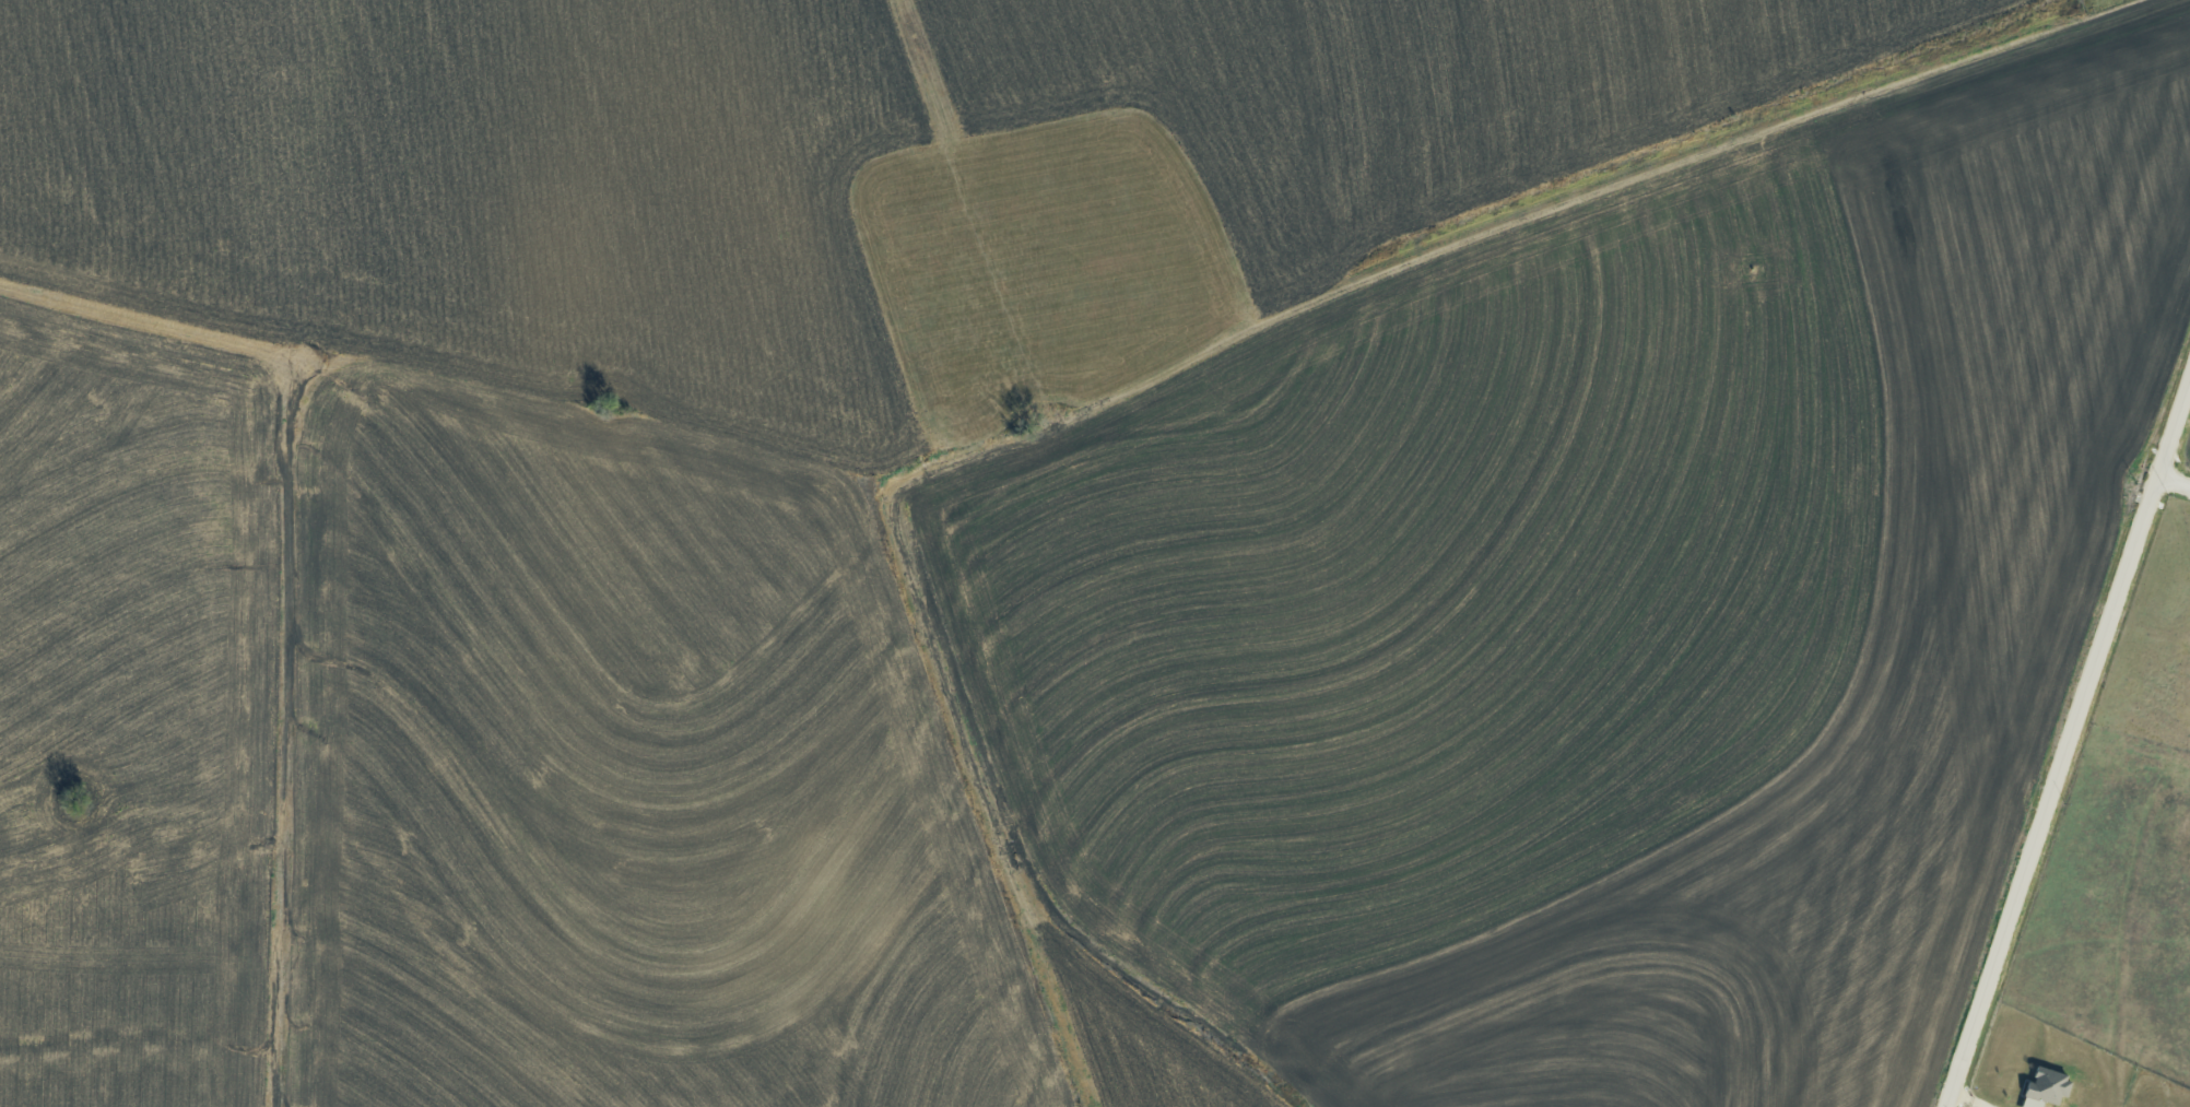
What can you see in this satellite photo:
road: (2174, 482)
road: (2068, 744)
building: (2046, 1087)

